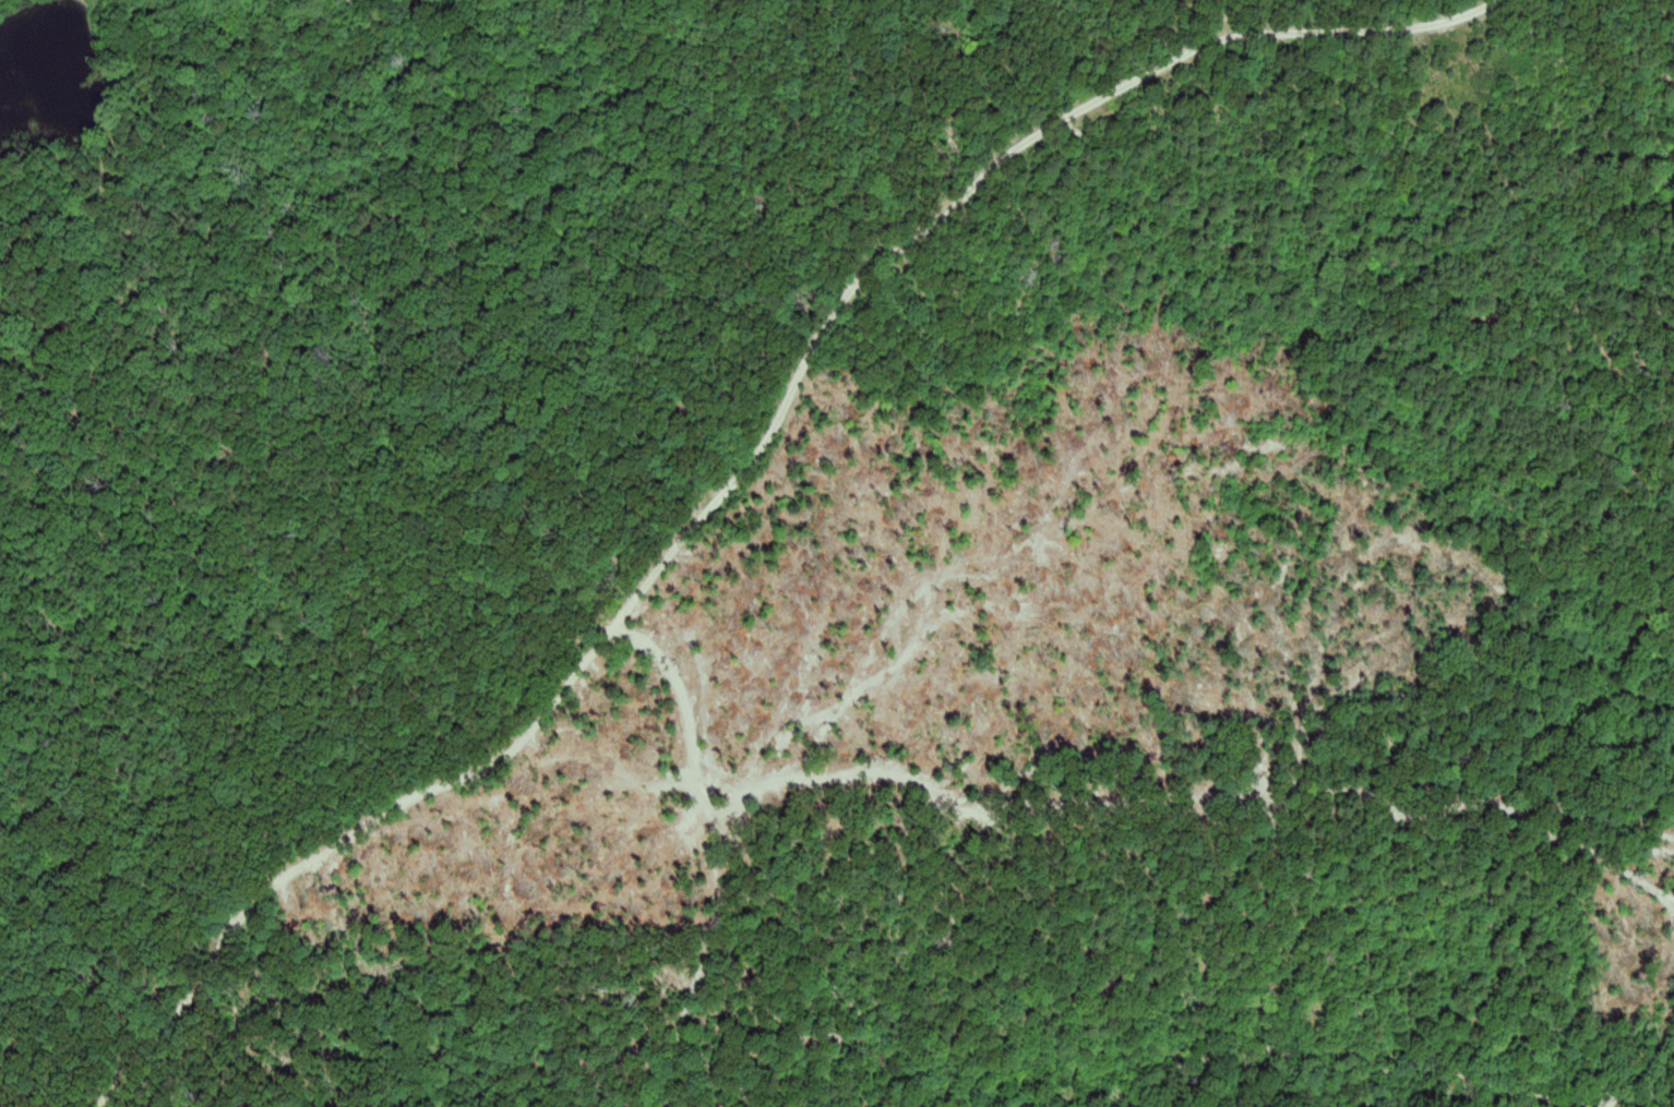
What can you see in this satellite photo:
road: (755, 457)

